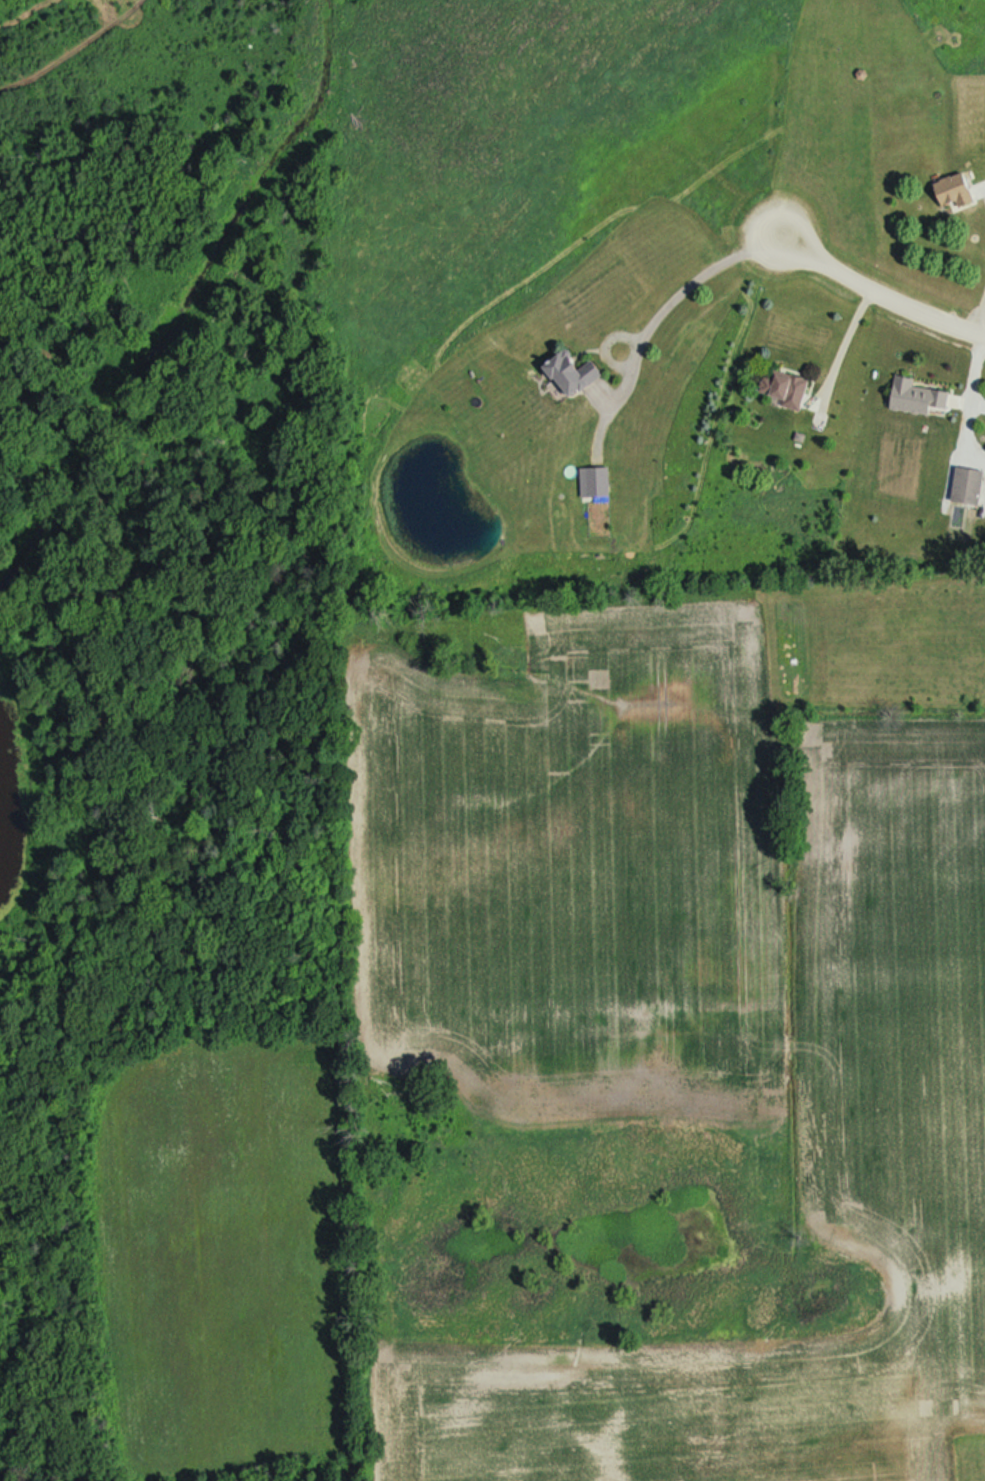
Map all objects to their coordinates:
building: (956, 192)
road: (891, 287)
road: (682, 295)
road: (983, 323)
road: (855, 338)
building: (573, 375)
building: (786, 391)
building: (918, 399)
building: (596, 483)
building: (968, 487)

